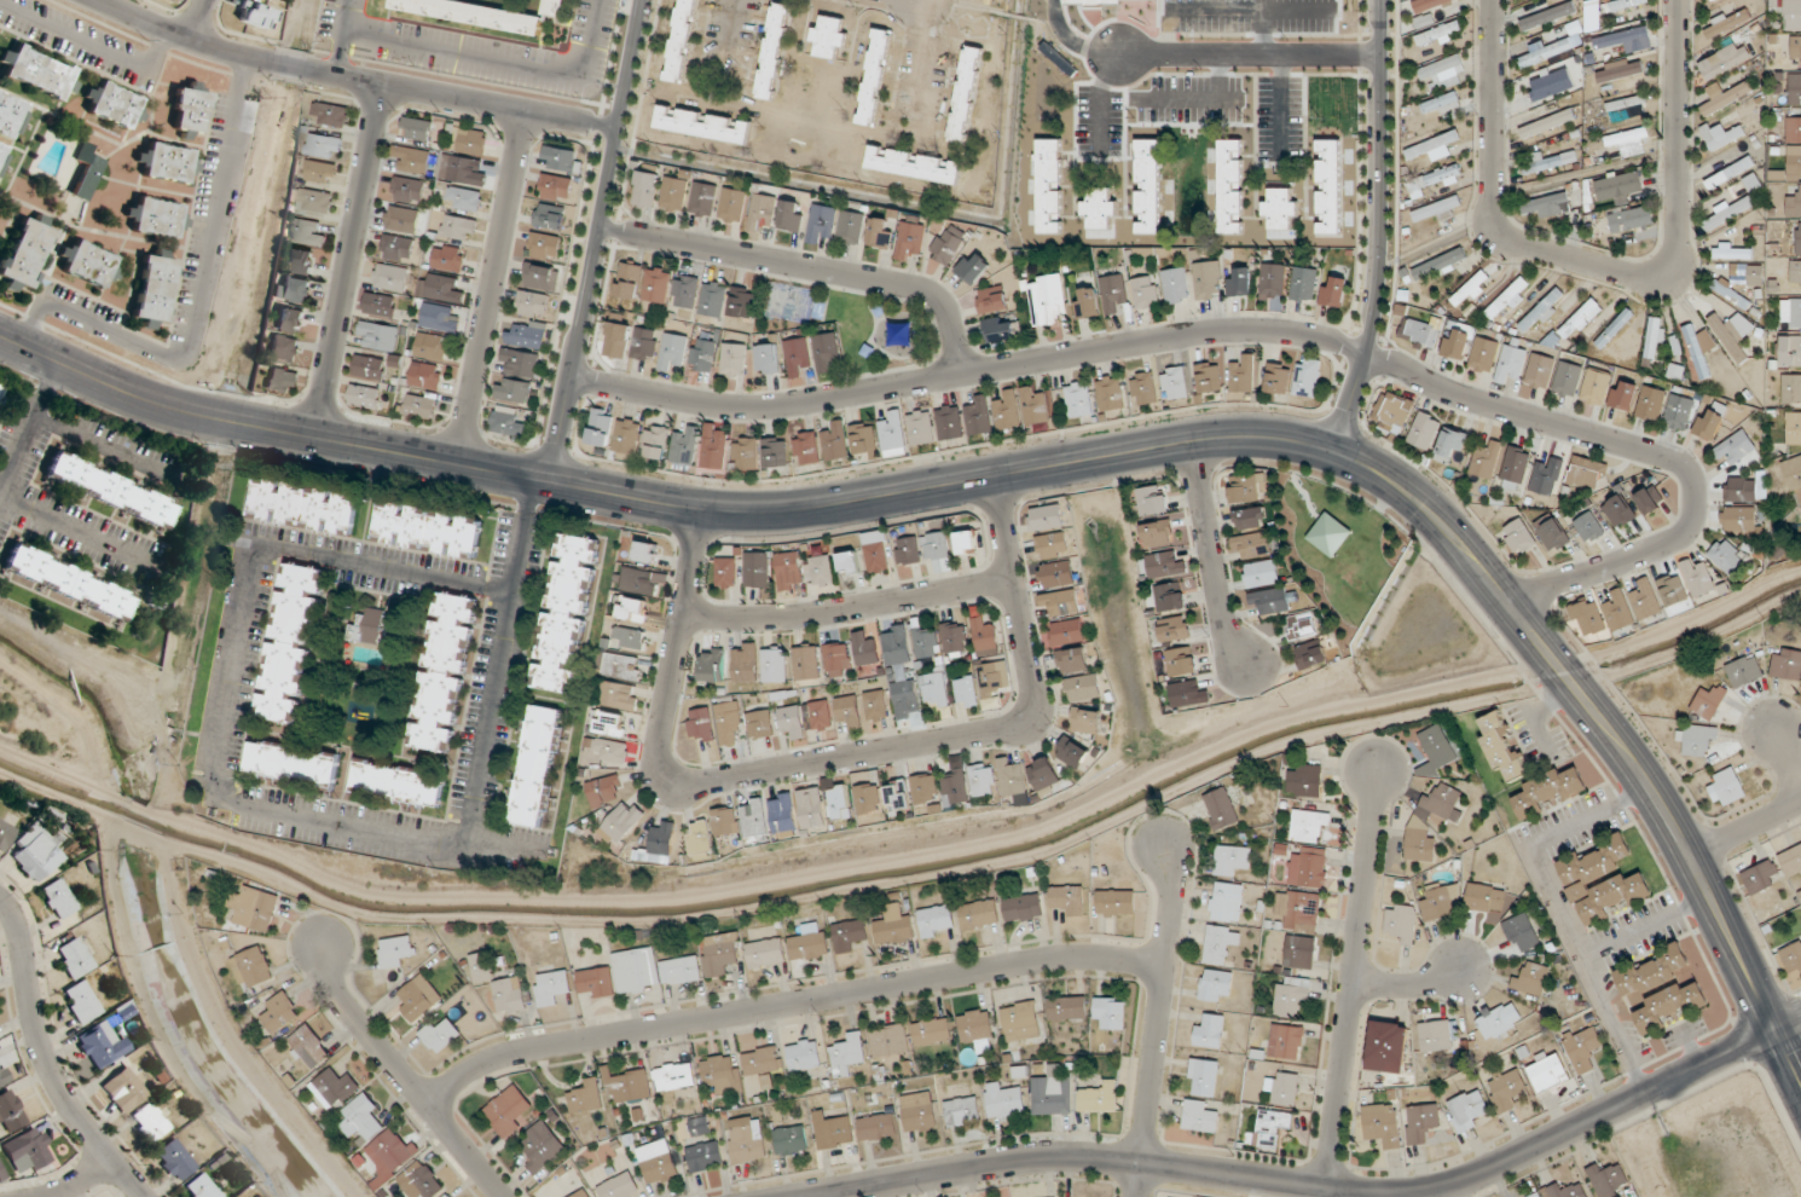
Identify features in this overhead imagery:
building: (170, 0)
building: (265, 0)
building: (1712, 0)
building: (1111, 1)
building: (1428, 4)
building: (556, 7)
building: (1606, 10)
building: (1791, 15)
building: (253, 16)
building: (1547, 16)
road: (201, 21)
building: (1727, 21)
building: (1438, 34)
building: (829, 36)
building: (1626, 40)
road: (91, 41)
building: (681, 41)
building: (774, 51)
building: (1545, 51)
building: (1795, 51)
road: (1247, 54)
building: (1722, 60)
building: (1620, 70)
building: (39, 71)
building: (1443, 73)
building: (874, 76)
road: (354, 77)
building: (1550, 83)
building: (1793, 88)
building: (965, 94)
building: (1727, 97)
building: (1440, 103)
building: (1626, 103)
building: (112, 104)
building: (187, 111)
building: (331, 114)
building: (11, 116)
building: (703, 123)
building: (1546, 123)
building: (416, 129)
building: (1793, 129)
building: (1721, 134)
building: (469, 140)
building: (1628, 141)
building: (325, 145)
building: (1435, 146)
building: (4, 155)
building: (560, 160)
building: (411, 161)
building: (166, 162)
building: (1793, 162)
building: (914, 164)
building: (463, 169)
building: (87, 170)
building: (323, 172)
building: (1730, 172)
building: (1442, 175)
building: (1617, 184)
building: (1049, 185)
building: (1230, 185)
building: (1148, 186)
building: (1328, 186)
building: (556, 187)
building: (647, 189)
building: (407, 190)
building: (674, 193)
building: (463, 199)
building: (703, 199)
building: (315, 201)
building: (1735, 203)
building: (732, 204)
building: (1794, 204)
building: (1546, 206)
building: (1099, 208)
building: (1440, 208)
building: (1279, 209)
building: (763, 212)
building: (792, 215)
building: (154, 216)
building: (550, 216)
building: (401, 219)
building: (1631, 219)
building: (821, 222)
building: (851, 227)
building: (457, 229)
road: (1379, 229)
building: (306, 232)
building: (881, 232)
building: (910, 237)
building: (1799, 238)
road: (595, 241)
building: (544, 245)
building: (946, 245)
building: (396, 248)
building: (25, 251)
building: (1731, 251)
building: (447, 258)
building: (300, 260)
road: (348, 260)
building: (88, 264)
building: (1440, 265)
road: (809, 266)
road: (1602, 267)
building: (972, 268)
building: (1755, 274)
building: (1795, 274)
building: (539, 276)
building: (390, 278)
building: (629, 281)
building: (1239, 281)
building: (1273, 281)
building: (1208, 283)
building: (1304, 283)
building: (656, 285)
building: (1175, 285)
building: (152, 288)
building: (439, 288)
road: (491, 288)
building: (1470, 288)
building: (291, 289)
building: (1333, 290)
building: (684, 291)
building: (1113, 293)
building: (1145, 293)
building: (1732, 294)
building: (713, 299)
building: (1507, 299)
building: (992, 300)
building: (1047, 300)
building: (742, 302)
building: (1087, 302)
building: (378, 305)
building: (533, 305)
road: (198, 307)
building: (1542, 310)
building: (1795, 313)
building: (439, 318)
building: (289, 319)
building: (1580, 319)
park: (855, 323)
building: (1614, 328)
building: (1000, 329)
road: (1266, 329)
building: (1421, 332)
building: (1655, 335)
building: (1728, 335)
building: (377, 336)
building: (527, 336)
building: (616, 340)
building: (1457, 342)
building: (644, 343)
building: (430, 346)
building: (284, 348)
building: (1698, 348)
building: (673, 351)
building: (1789, 351)
building: (826, 352)
building: (1484, 353)
building: (702, 355)
building: (797, 358)
building: (766, 359)
building: (732, 360)
building: (520, 363)
building: (1512, 363)
building: (369, 368)
building: (1540, 371)
building: (1244, 375)
building: (424, 376)
building: (1209, 377)
building: (1308, 377)
building: (1279, 378)
building: (1568, 378)
building: (282, 380)
building: (1175, 383)
building: (1596, 386)
building: (1145, 388)
building: (1791, 388)
building: (515, 391)
building: (1111, 393)
building: (1623, 394)
building: (365, 398)
building: (1079, 399)
building: (1651, 403)
building: (419, 406)
building: (1035, 407)
building: (1007, 409)
building: (1394, 410)
building: (1679, 411)
building: (979, 415)
building: (1709, 418)
road: (28, 423)
building: (951, 426)
building: (508, 427)
building: (601, 427)
building: (921, 427)
road: (271, 428)
building: (1793, 428)
building: (1425, 430)
building: (893, 434)
building: (627, 436)
building: (863, 439)
building: (835, 441)
building: (656, 443)
road: (98, 445)
building: (1450, 446)
building: (1737, 446)
building: (685, 449)
building: (806, 449)
building: (716, 450)
building: (776, 452)
building: (746, 453)
building: (1486, 459)
building: (1515, 467)
building: (1586, 472)
building: (1793, 472)
building: (1546, 478)
road: (944, 484)
building: (1246, 488)
building: (1741, 488)
building: (109, 490)
building: (1647, 498)
building: (1153, 501)
building: (305, 507)
building: (1800, 507)
building: (1620, 511)
building: (1047, 517)
building: (1252, 519)
building: (1739, 519)
building: (1588, 527)
road: (68, 528)
building: (428, 530)
building: (1551, 532)
building: (1159, 533)
building: (1328, 533)
road: (522, 537)
building: (1517, 538)
building: (967, 543)
park: (1338, 543)
building: (937, 545)
building: (1054, 545)
building: (1251, 545)
building: (909, 550)
building: (644, 551)
building: (876, 551)
building: (1726, 556)
road: (1211, 559)
building: (850, 562)
building: (1165, 565)
building: (757, 569)
building: (788, 571)
building: (822, 571)
building: (726, 572)
building: (1262, 573)
building: (1058, 574)
building: (1697, 579)
building: (66, 582)
building: (643, 582)
building: (1672, 590)
building: (1170, 597)
building: (1646, 600)
building: (1270, 601)
building: (1061, 602)
road: (849, 608)
building: (635, 609)
building: (1620, 611)
building: (567, 613)
building: (1588, 618)
building: (1302, 625)
building: (373, 628)
building: (1175, 629)
building: (1067, 632)
building: (985, 637)
building: (630, 638)
building: (955, 640)
building: (291, 643)
building: (927, 643)
building: (896, 646)
building: (864, 650)
building: (1311, 655)
road: (230, 659)
building: (836, 659)
building: (1073, 660)
building: (1182, 661)
building: (745, 663)
building: (806, 663)
building: (1786, 664)
building: (712, 665)
building: (774, 665)
building: (622, 666)
building: (445, 672)
building: (1743, 672)
building: (991, 678)
building: (1084, 688)
building: (934, 690)
building: (966, 692)
building: (1188, 694)
building: (619, 695)
building: (905, 699)
building: (1708, 702)
building: (875, 706)
building: (847, 711)
building: (820, 715)
building: (1087, 721)
road: (487, 723)
building: (729, 723)
building: (791, 723)
building: (612, 724)
building: (700, 724)
building: (759, 724)
road: (1610, 734)
building: (1697, 739)
building: (1501, 746)
building: (609, 750)
building: (1436, 750)
building: (1072, 752)
road: (1786, 753)
road: (827, 762)
building: (293, 763)
building: (535, 765)
building: (1043, 774)
building: (1012, 777)
building: (984, 779)
building: (1304, 781)
building: (399, 783)
building: (955, 787)
building: (926, 788)
building: (1727, 788)
building: (1548, 790)
building: (603, 791)
building: (899, 796)
building: (869, 798)
building: (841, 803)
building: (812, 808)
building: (1221, 809)
building: (783, 814)
building: (755, 817)
building: (726, 821)
building: (621, 823)
building: (1419, 825)
building: (1308, 826)
road: (1744, 827)
building: (5, 833)
building: (700, 840)
building: (659, 845)
building: (35, 851)
building: (1229, 860)
building: (1791, 860)
building: (1308, 867)
building: (1761, 877)
building: (1602, 880)
building: (58, 898)
building: (1484, 898)
building: (1069, 900)
building: (1441, 901)
building: (1116, 902)
building: (1226, 902)
building: (254, 908)
building: (1023, 908)
building: (1301, 913)
building: (979, 915)
building: (936, 921)
building: (1401, 924)
building: (893, 926)
building: (1521, 932)
building: (850, 935)
building: (1220, 943)
building: (809, 947)
building: (396, 952)
building: (1299, 952)
building: (720, 954)
building: (765, 954)
building: (74, 958)
building: (1790, 961)
building: (253, 967)
building: (681, 970)
building: (633, 972)
building: (1531, 978)
building: (596, 982)
road: (1351, 982)
road: (1407, 983)
building: (498, 984)
building: (1215, 985)
building: (551, 988)
building: (1660, 988)
building: (1291, 996)
building: (419, 999)
building: (81, 1001)
road: (787, 1002)
building: (1067, 1008)
building: (1110, 1012)
building: (279, 1013)
building: (1499, 1019)
building: (1020, 1020)
road: (1158, 1023)
road: (1788, 1023)
building: (975, 1025)
building: (1209, 1030)
building: (932, 1031)
building: (440, 1035)
building: (1438, 1035)
building: (890, 1041)
building: (1286, 1042)
building: (102, 1045)
building: (308, 1047)
building: (1388, 1047)
building: (1583, 1048)
building: (804, 1054)
building: (847, 1056)
road: (45, 1059)
building: (761, 1064)
building: (1547, 1071)
road: (401, 1074)
building: (722, 1074)
building: (2, 1076)
building: (674, 1076)
building: (1203, 1077)
building: (627, 1086)
building: (1282, 1087)
building: (335, 1088)
building: (124, 1089)
building: (1506, 1089)
building: (1050, 1093)
building: (586, 1098)
building: (1099, 1099)
building: (1003, 1101)
building: (1467, 1110)
building: (11, 1111)
building: (962, 1111)
building: (509, 1112)
building: (920, 1112)
building: (1199, 1116)
building: (363, 1120)
building: (150, 1122)
building: (1421, 1122)
building: (1383, 1124)
building: (700, 1126)
building: (878, 1127)
building: (1270, 1128)
building: (834, 1133)
building: (746, 1139)
building: (791, 1140)
building: (542, 1146)
building: (28, 1151)
building: (389, 1156)
building: (705, 1157)
building: (174, 1161)
building: (658, 1162)
building: (1608, 1180)
road: (80, 1181)
building: (419, 1181)
building: (202, 1186)
building: (620, 1186)
road: (1307, 1186)
building: (1564, 1191)
building: (583, 1193)
building: (448, 1196)
building: (1537, 1196)

